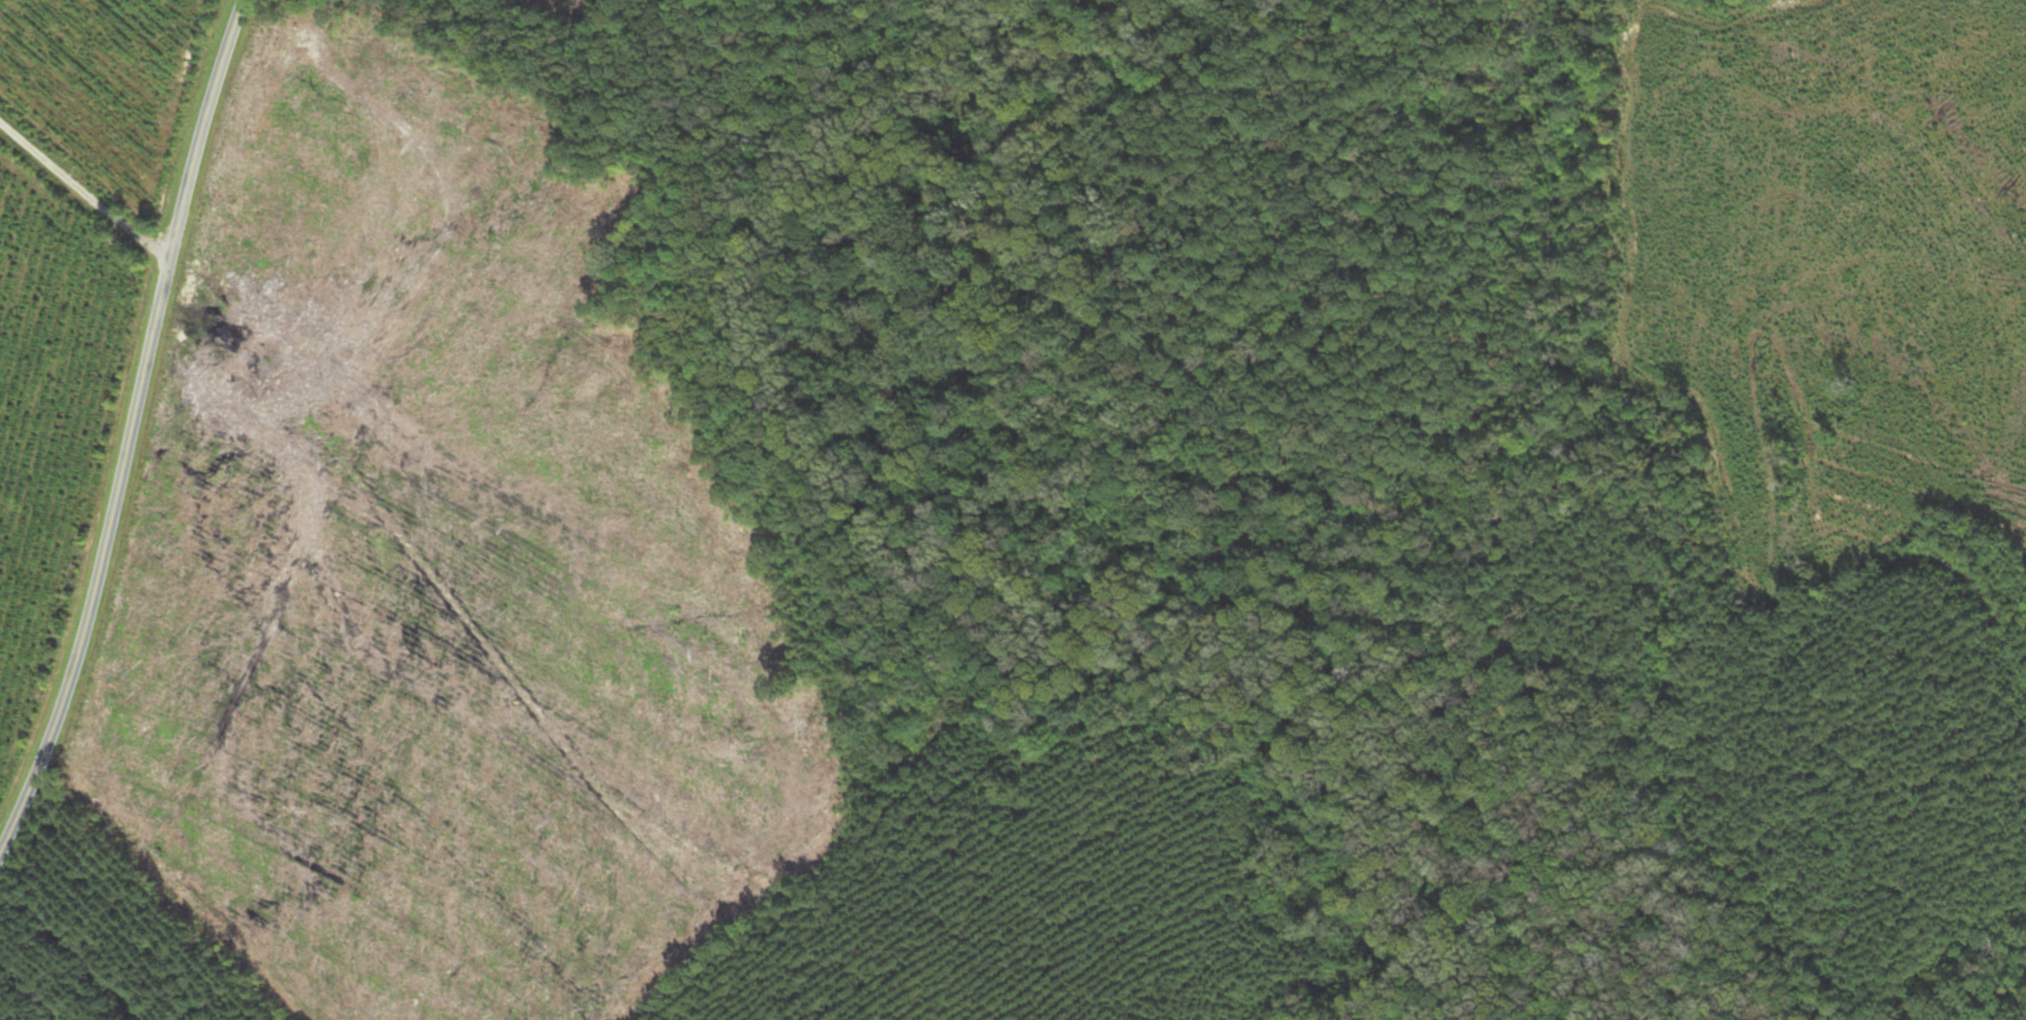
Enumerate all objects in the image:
road: (131, 429)

